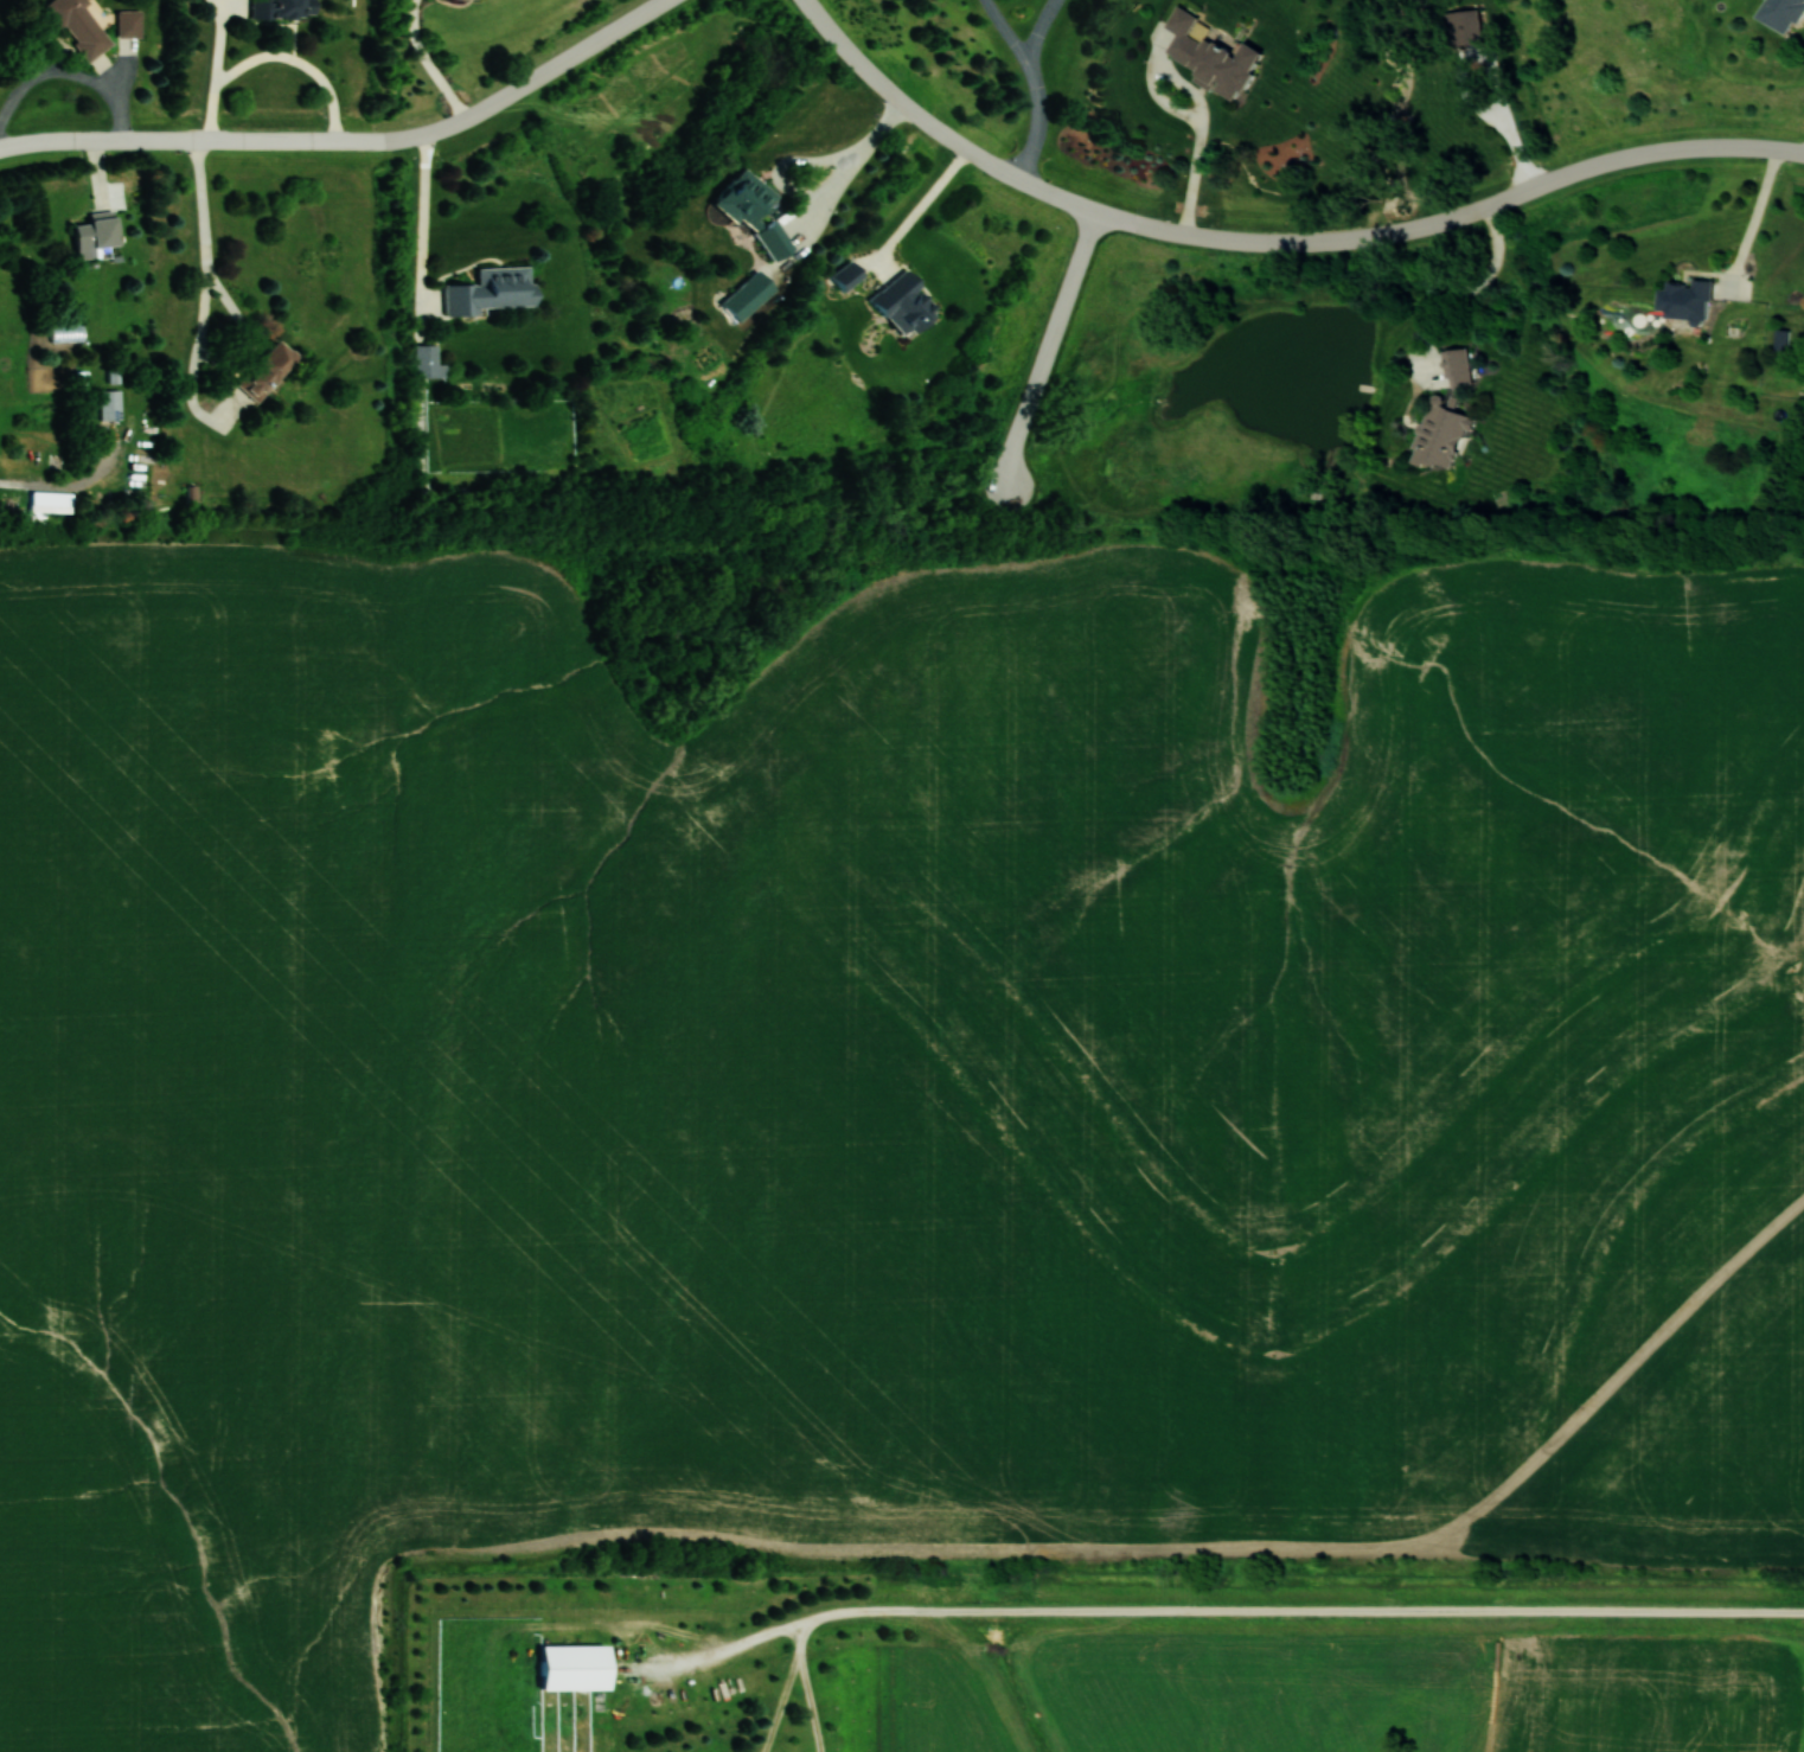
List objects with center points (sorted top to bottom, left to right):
building: (465, 0)
building: (283, 8)
building: (1779, 13)
building: (129, 24)
road: (1486, 24)
building: (1463, 25)
road: (1041, 26)
building: (81, 27)
road: (1005, 27)
road: (887, 49)
road: (274, 56)
road: (426, 63)
road: (1198, 96)
road: (1039, 119)
road: (1502, 121)
road: (348, 140)
road: (834, 153)
building: (755, 211)
road: (1753, 220)
building: (97, 232)
road: (422, 235)
road: (1269, 243)
building: (847, 275)
road: (1469, 284)
building: (491, 289)
building: (748, 295)
building: (1683, 298)
building: (906, 302)
road: (232, 306)
building: (1779, 338)
road: (1047, 349)
building: (428, 362)
building: (1457, 365)
building: (267, 369)
building: (110, 404)
building: (1440, 435)
road: (1288, 1610)
building: (575, 1668)
road: (810, 1700)
road: (780, 1701)

